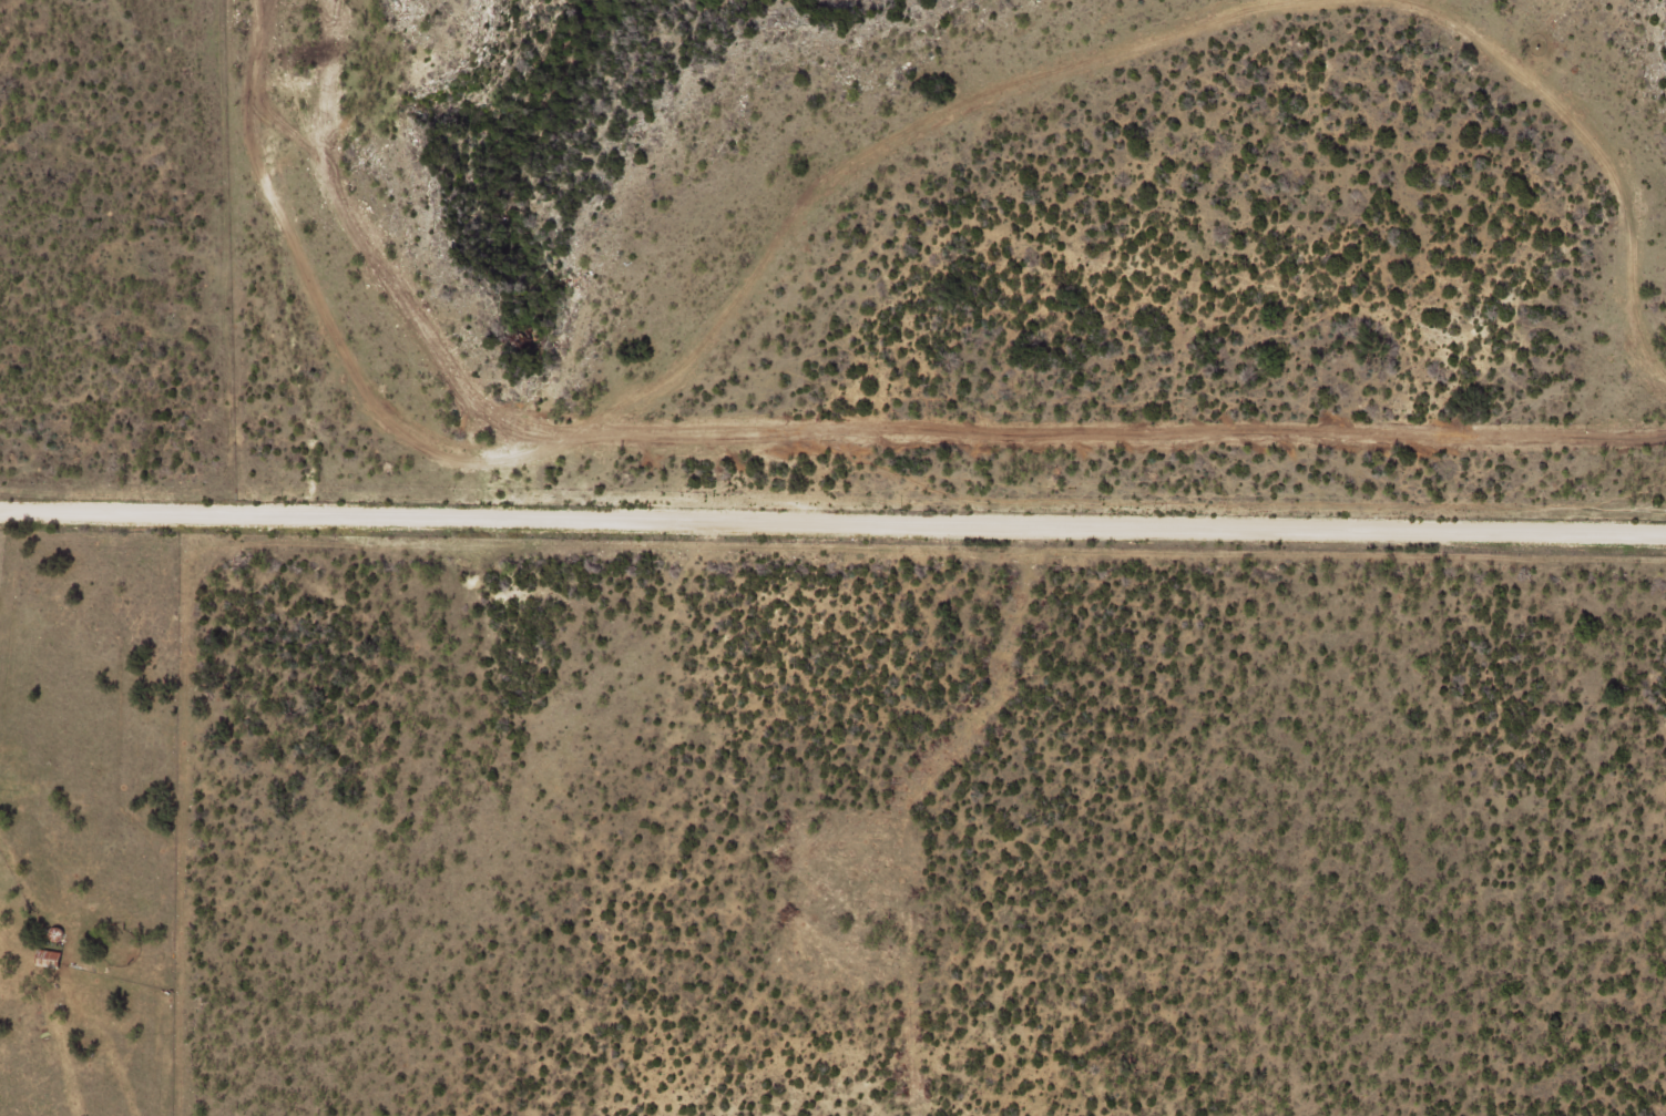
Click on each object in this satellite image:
road: (832, 521)

